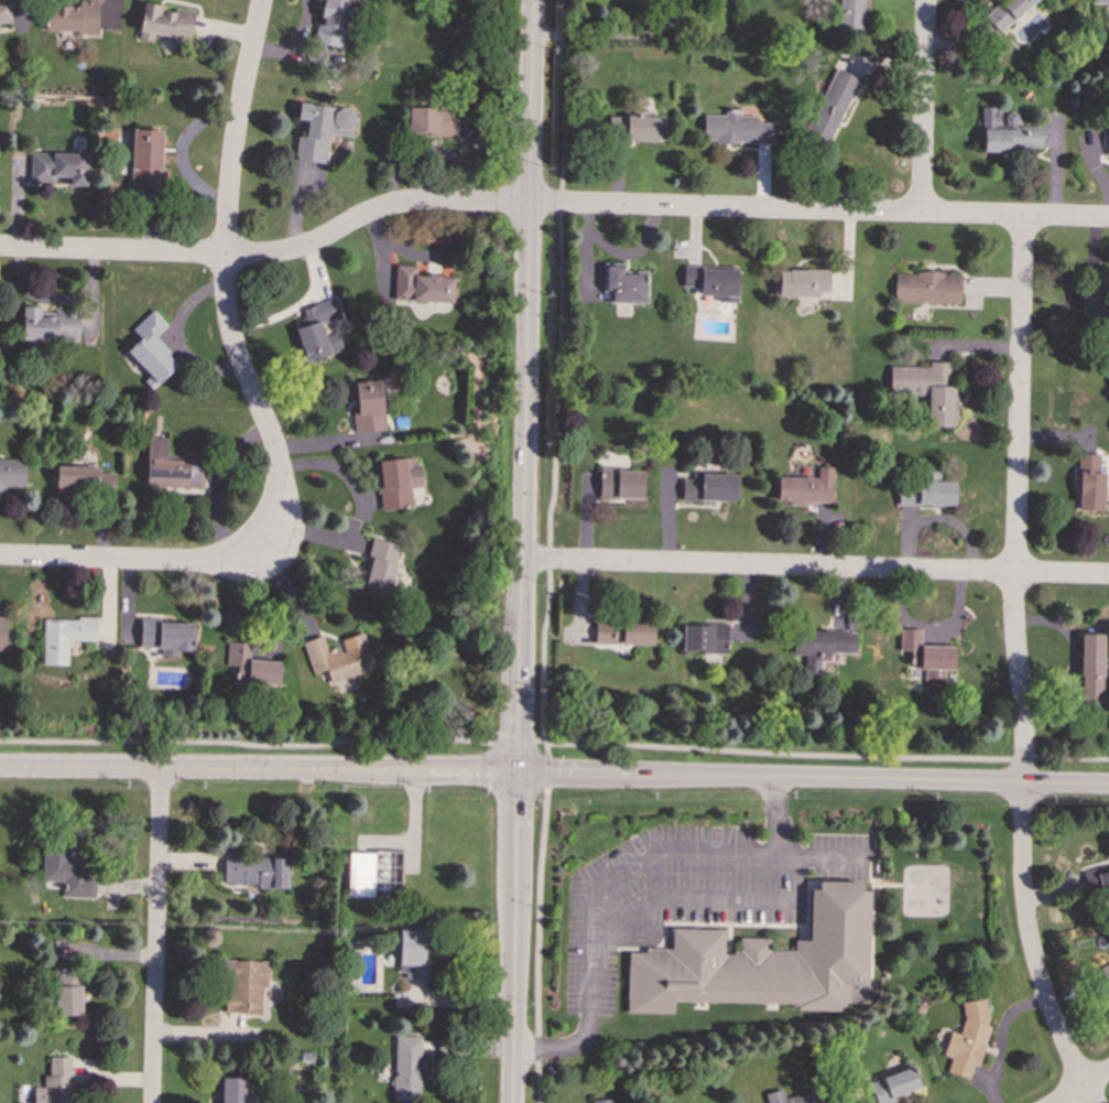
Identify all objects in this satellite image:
building: (1100, 1)
building: (4, 11)
building: (850, 13)
building: (1005, 13)
building: (73, 18)
building: (333, 21)
building: (164, 22)
building: (831, 105)
road: (922, 106)
building: (432, 120)
building: (639, 128)
building: (736, 128)
building: (320, 129)
building: (1007, 132)
building: (1108, 141)
building: (145, 160)
building: (58, 166)
road: (818, 212)
road: (269, 255)
road: (225, 261)
building: (711, 281)
building: (800, 282)
building: (623, 283)
building: (421, 285)
building: (926, 288)
building: (1094, 307)
building: (50, 324)
building: (317, 331)
building: (151, 347)
building: (926, 388)
building: (367, 405)
road: (333, 466)
building: (171, 467)
building: (11, 473)
building: (396, 482)
building: (620, 484)
building: (1089, 484)
building: (709, 487)
building: (805, 488)
road: (521, 551)
road: (546, 551)
road: (148, 562)
building: (380, 567)
road: (815, 567)
building: (2, 631)
building: (623, 632)
building: (166, 636)
building: (64, 638)
building: (704, 638)
building: (819, 647)
building: (926, 655)
building: (338, 657)
building: (250, 666)
road: (1018, 667)
building: (1091, 669)
road: (272, 744)
road: (827, 755)
road: (554, 775)
road: (699, 850)
building: (255, 869)
building: (370, 870)
building: (68, 872)
building: (1100, 879)
road: (663, 898)
road: (154, 937)
building: (411, 952)
building: (762, 962)
building: (1106, 973)
building: (243, 985)
building: (68, 992)
building: (967, 1038)
building: (406, 1068)
building: (55, 1082)
road: (1080, 1082)
building: (893, 1085)
building: (231, 1090)
building: (790, 1097)
building: (602, 1101)
building: (29, 1102)

